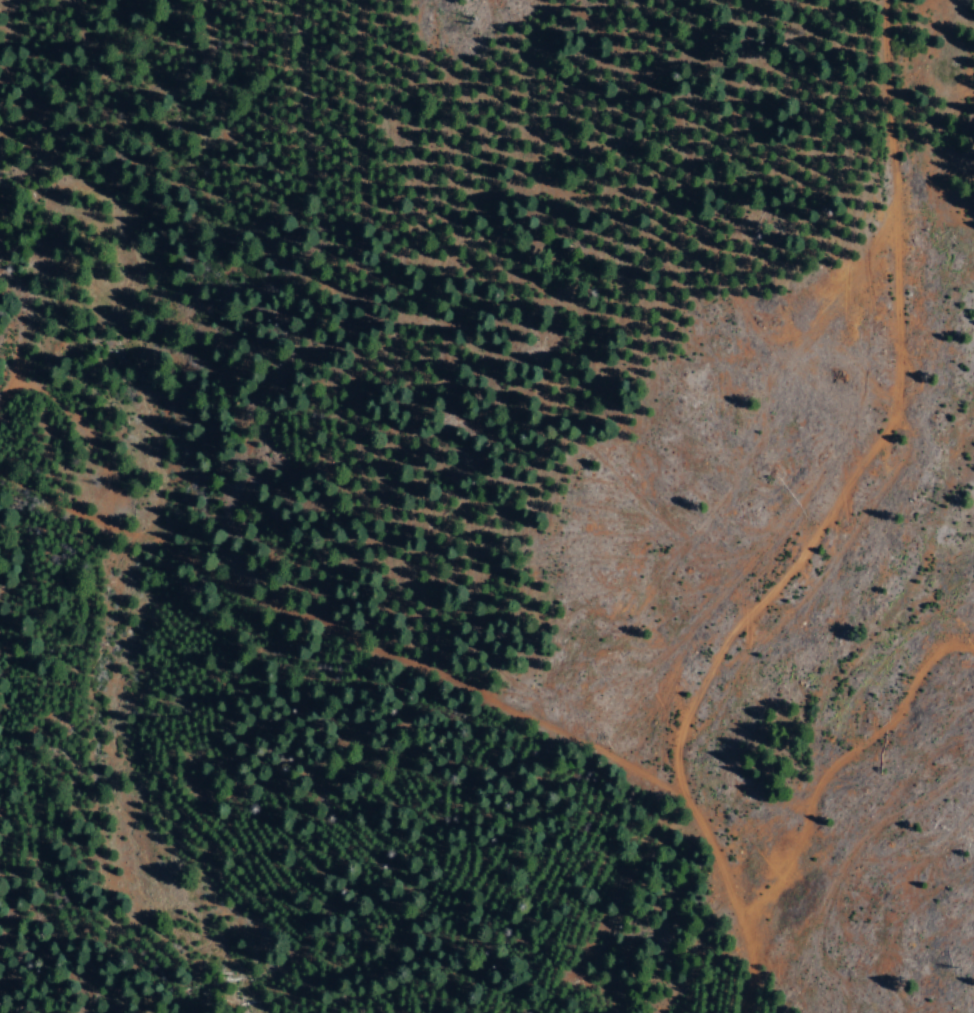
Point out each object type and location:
road: (862, 490)
road: (834, 822)

